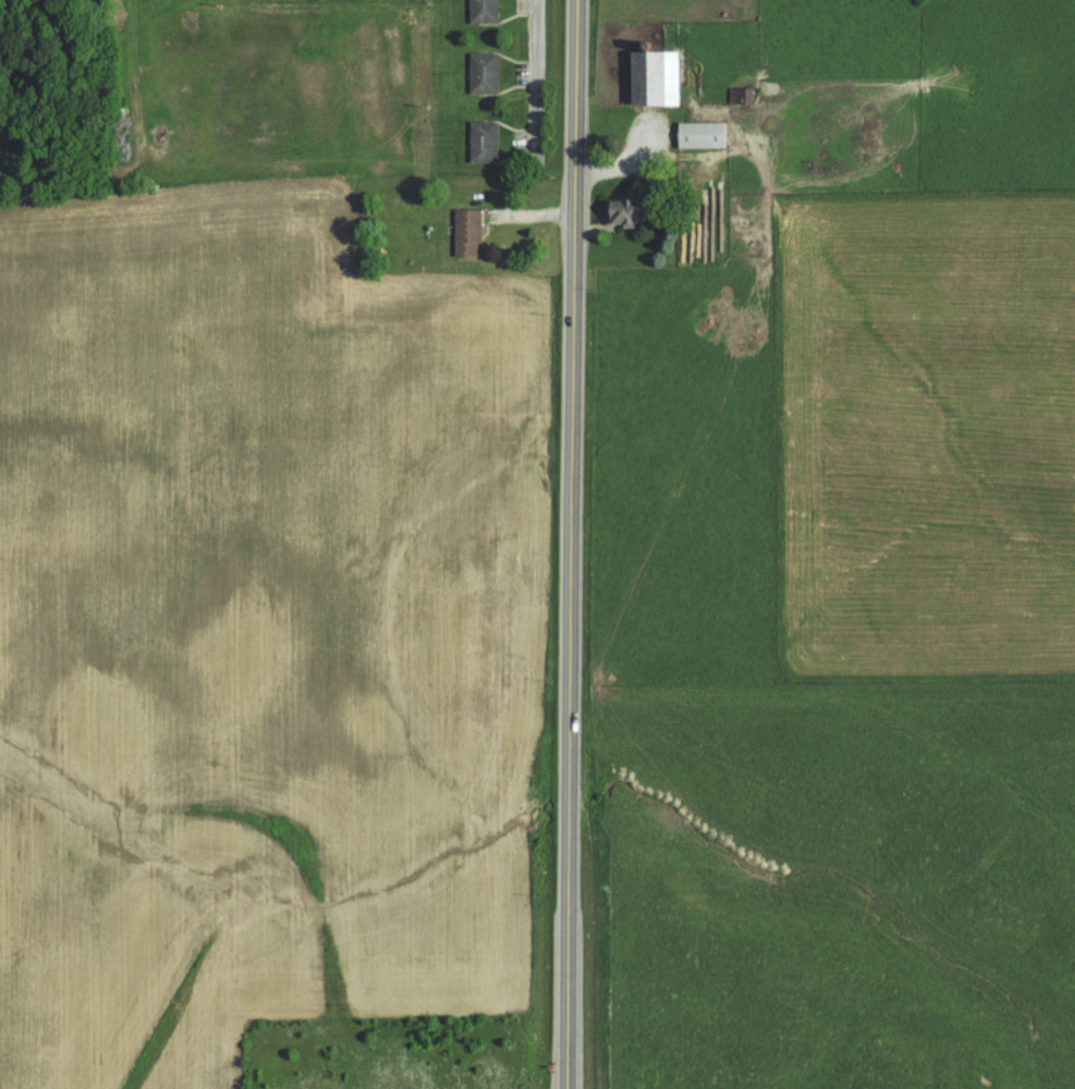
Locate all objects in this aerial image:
building: (481, 11)
building: (481, 73)
building: (651, 77)
road: (536, 84)
building: (740, 95)
building: (698, 134)
building: (481, 142)
road: (622, 167)
building: (621, 211)
building: (465, 233)
road: (572, 509)
road: (566, 1053)

